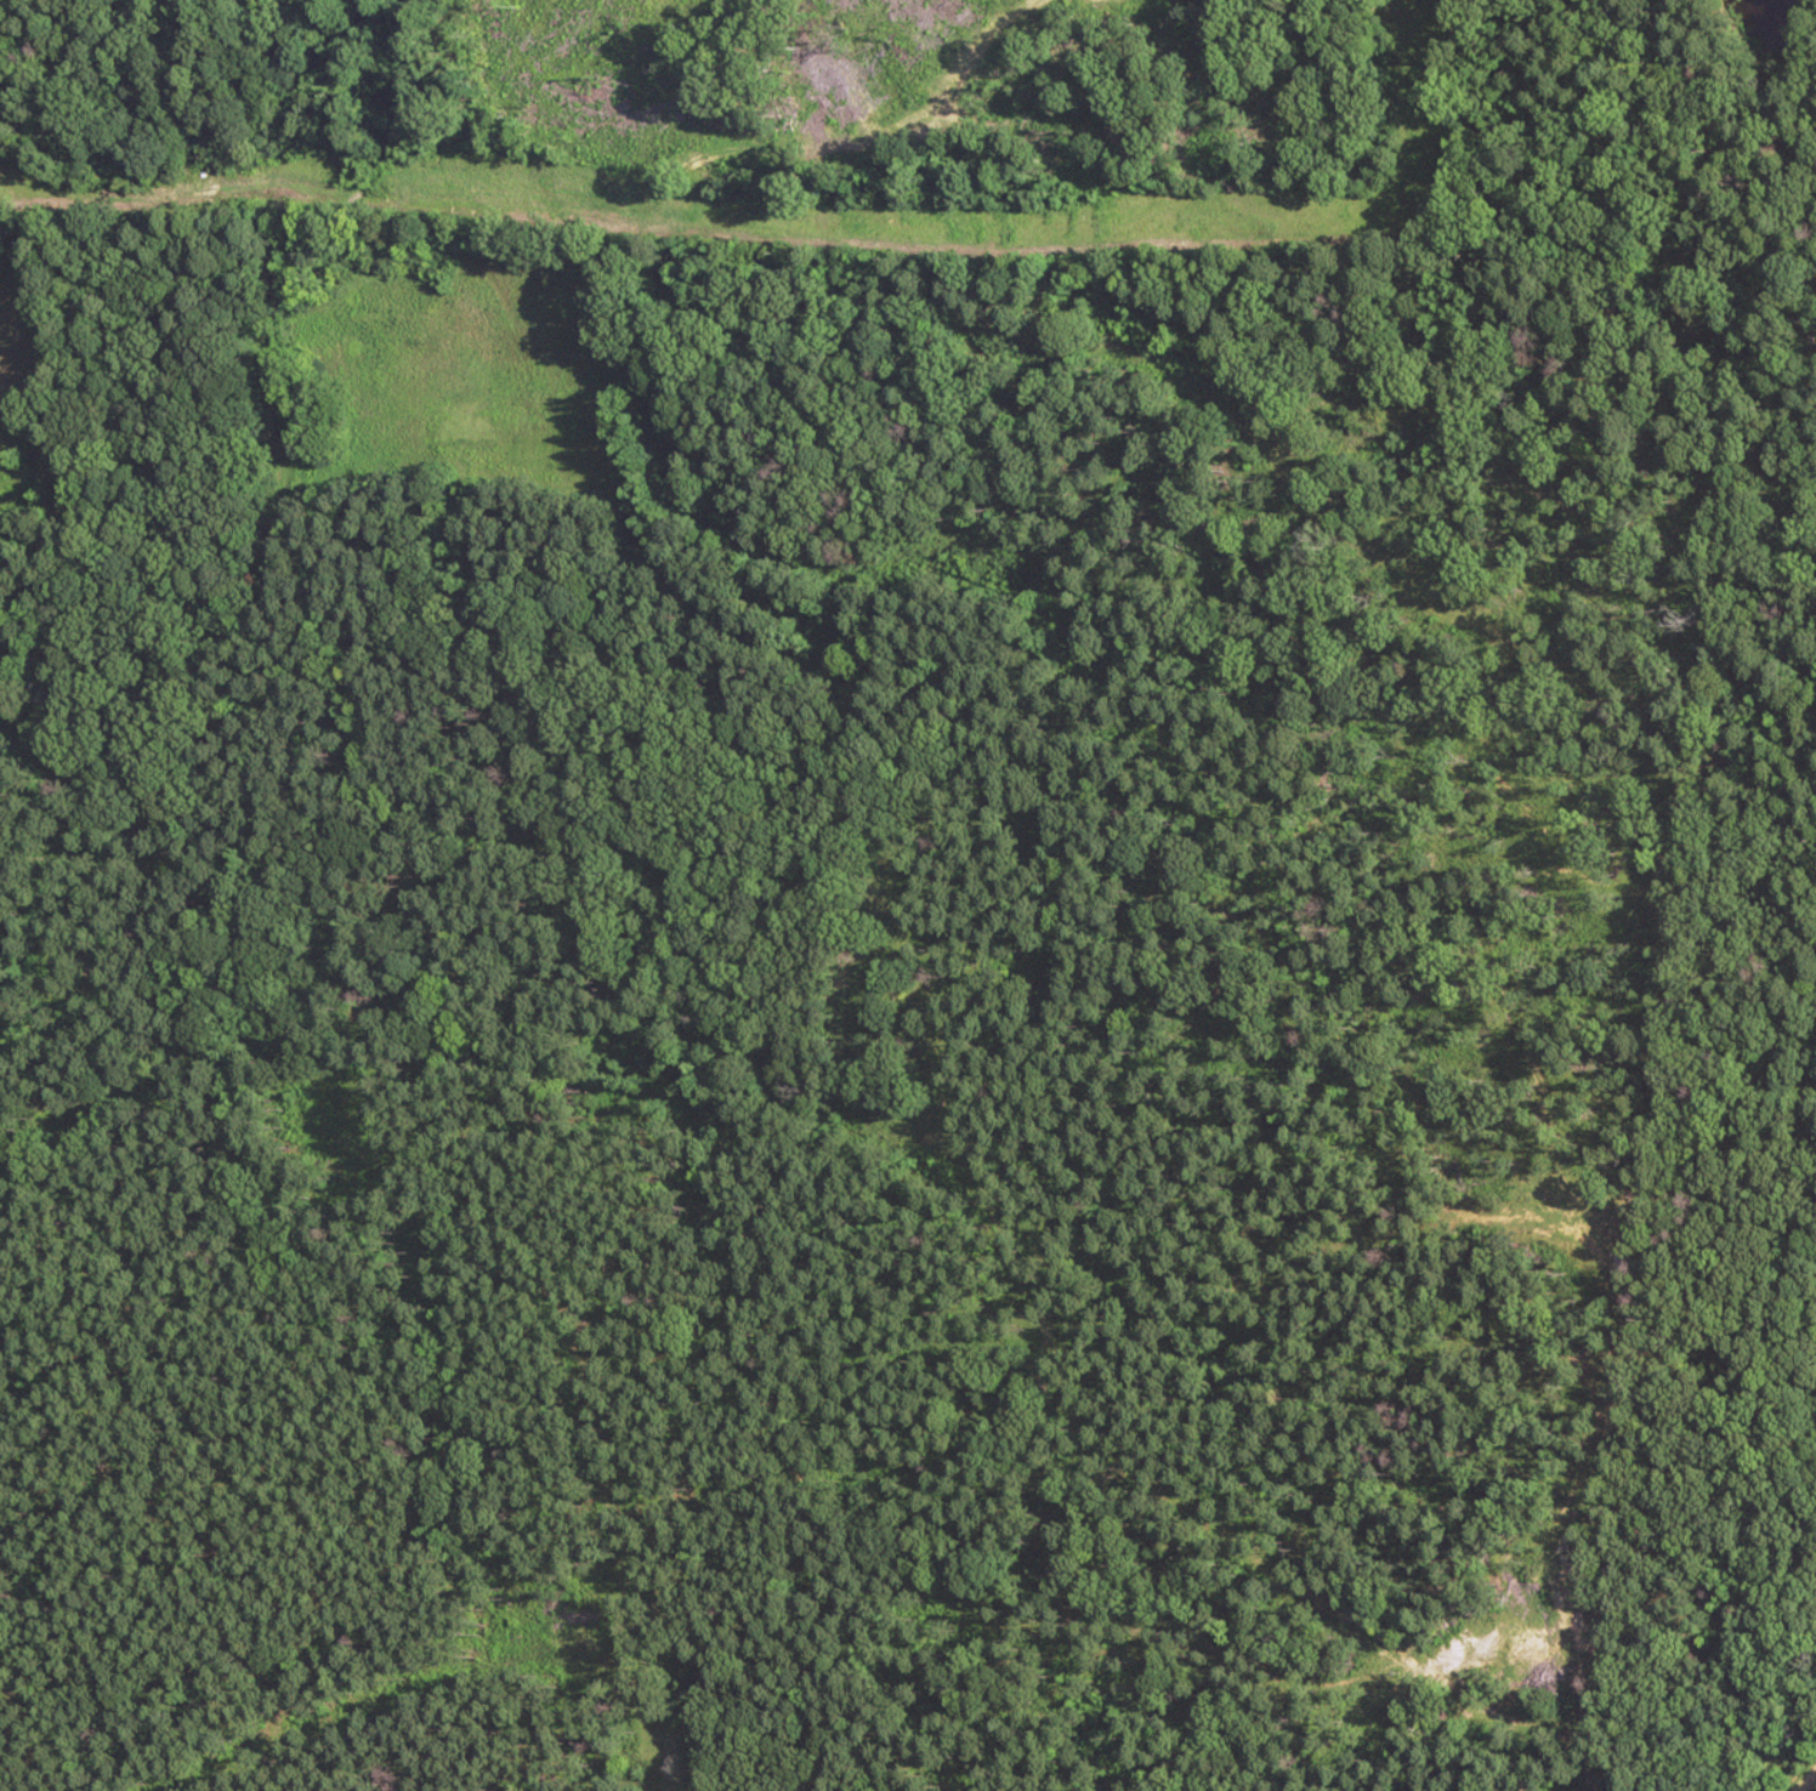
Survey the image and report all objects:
road: (1806, 1780)

